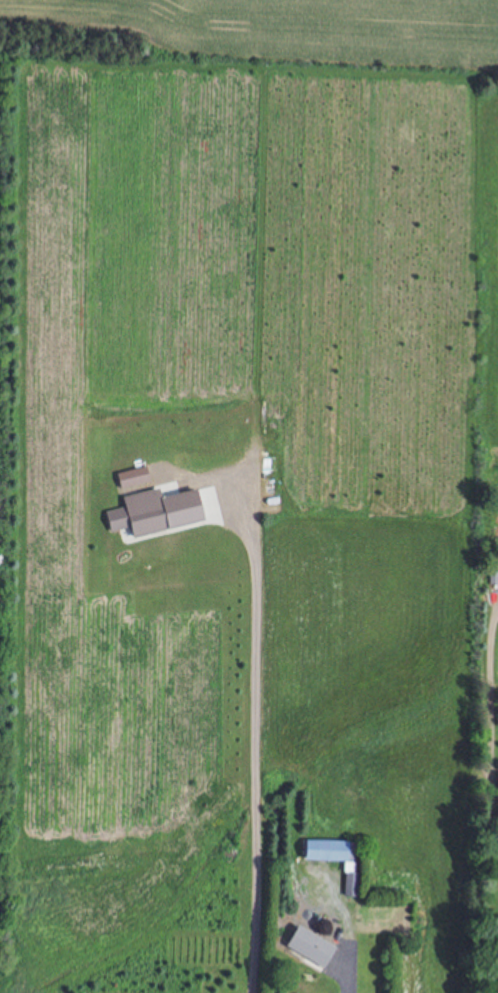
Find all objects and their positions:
building: (494, 785)
building: (323, 851)
building: (306, 947)

